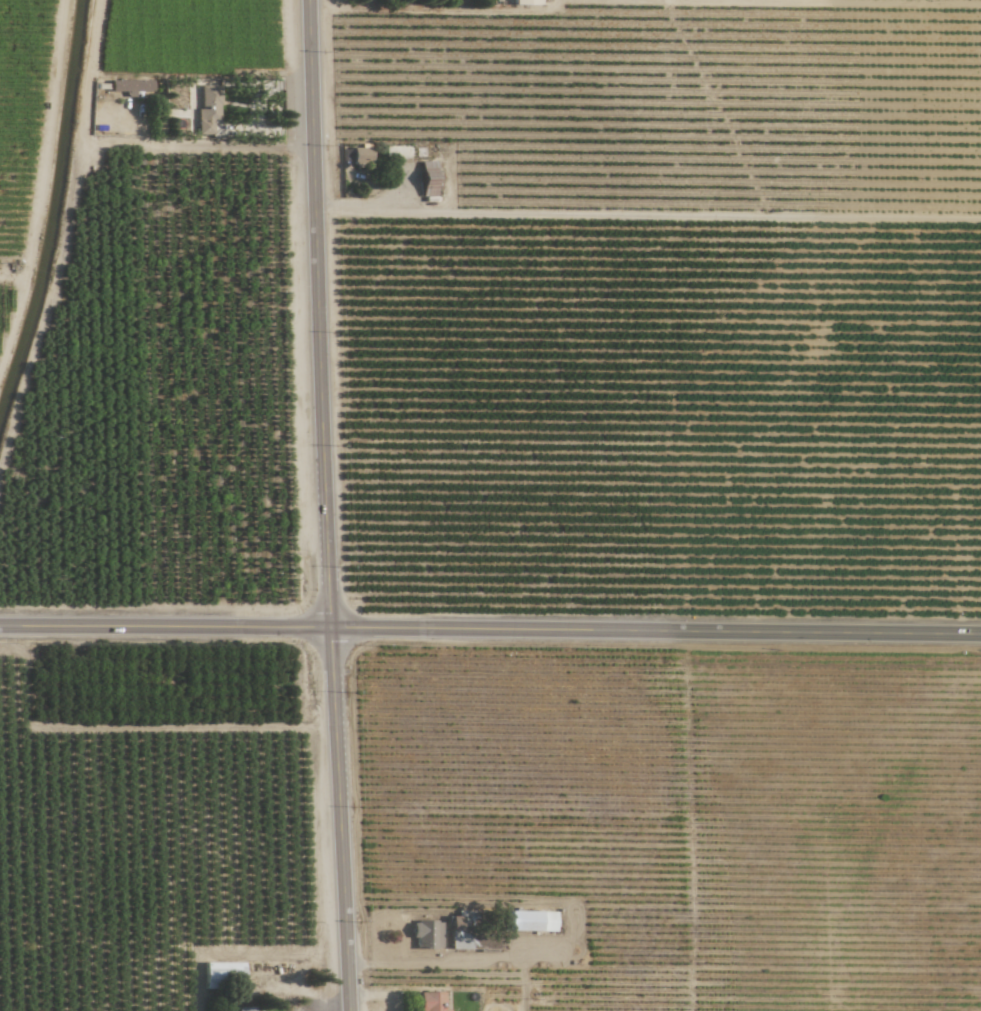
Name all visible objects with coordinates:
building: (531, 2)
building: (132, 86)
building: (208, 108)
building: (356, 154)
building: (428, 177)
road: (325, 505)
road: (490, 628)
building: (526, 920)
building: (426, 934)
building: (223, 973)
building: (433, 1001)
building: (248, 1008)

